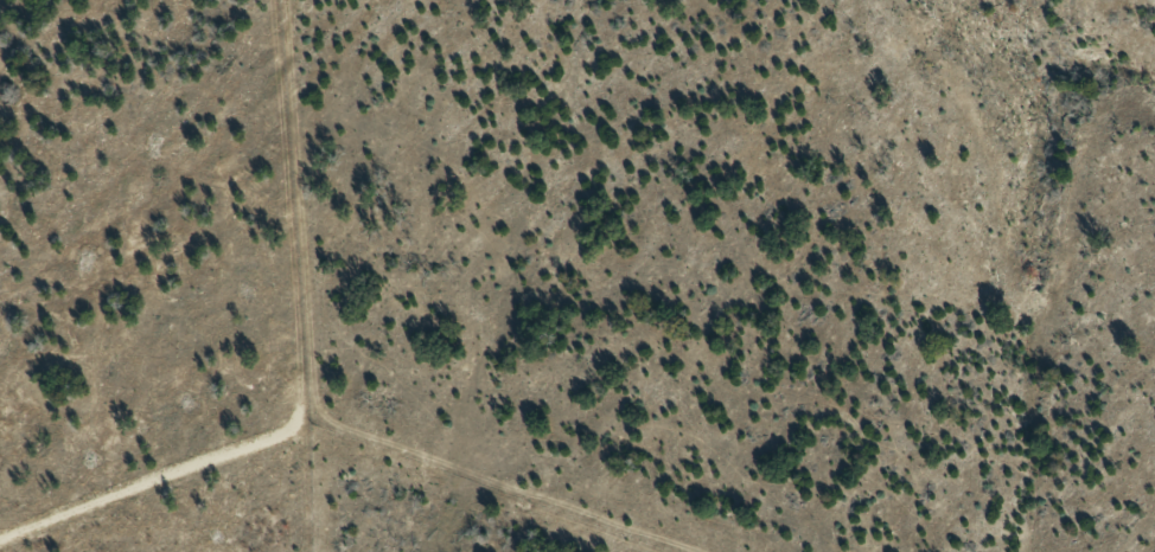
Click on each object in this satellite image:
road: (344, 426)

